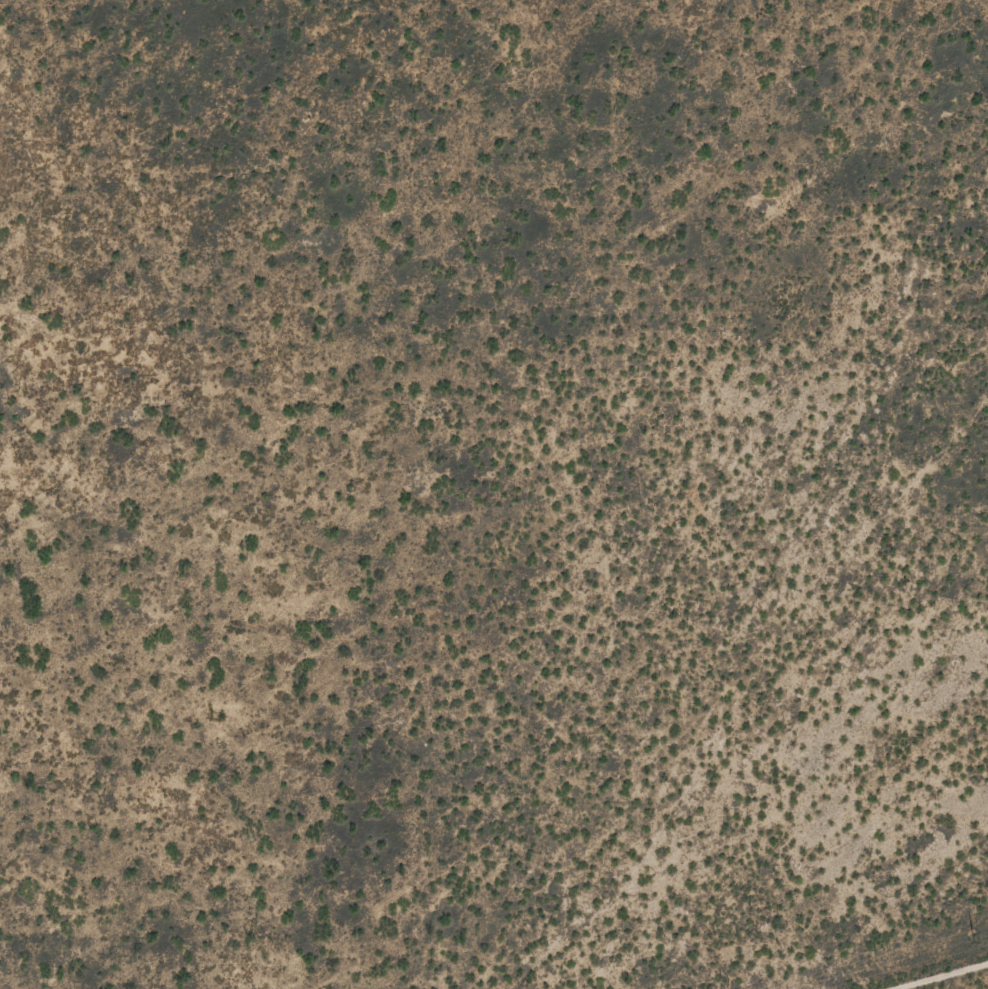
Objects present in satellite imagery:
power tower: (971, 937)

